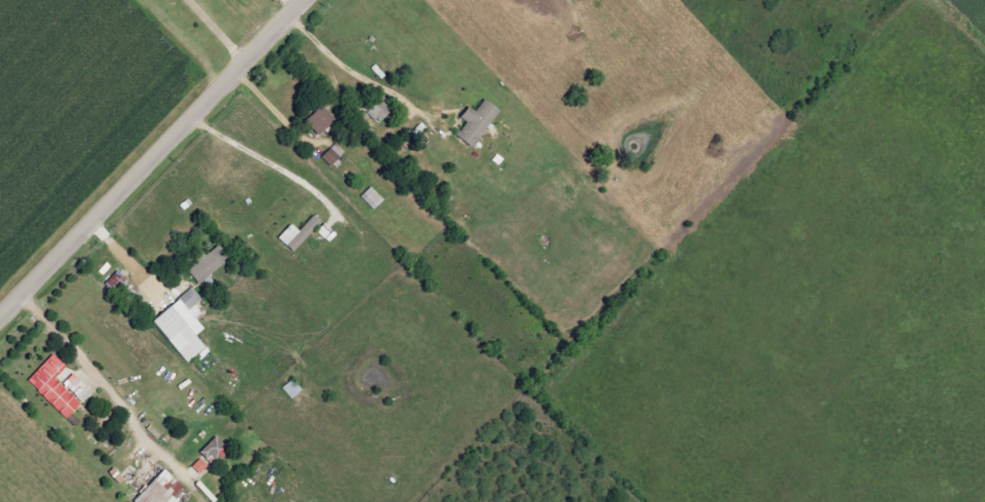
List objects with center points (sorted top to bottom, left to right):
crop: (974, 10)
road: (215, 33)
road: (365, 83)
road: (269, 108)
building: (314, 118)
building: (475, 122)
building: (329, 156)
road: (155, 160)
road: (266, 165)
building: (371, 198)
building: (297, 233)
road: (128, 258)
building: (206, 264)
crop: (817, 304)
building: (175, 323)
road: (100, 384)
building: (52, 386)
building: (76, 388)
building: (291, 389)
building: (212, 451)
building: (199, 466)
building: (158, 489)

